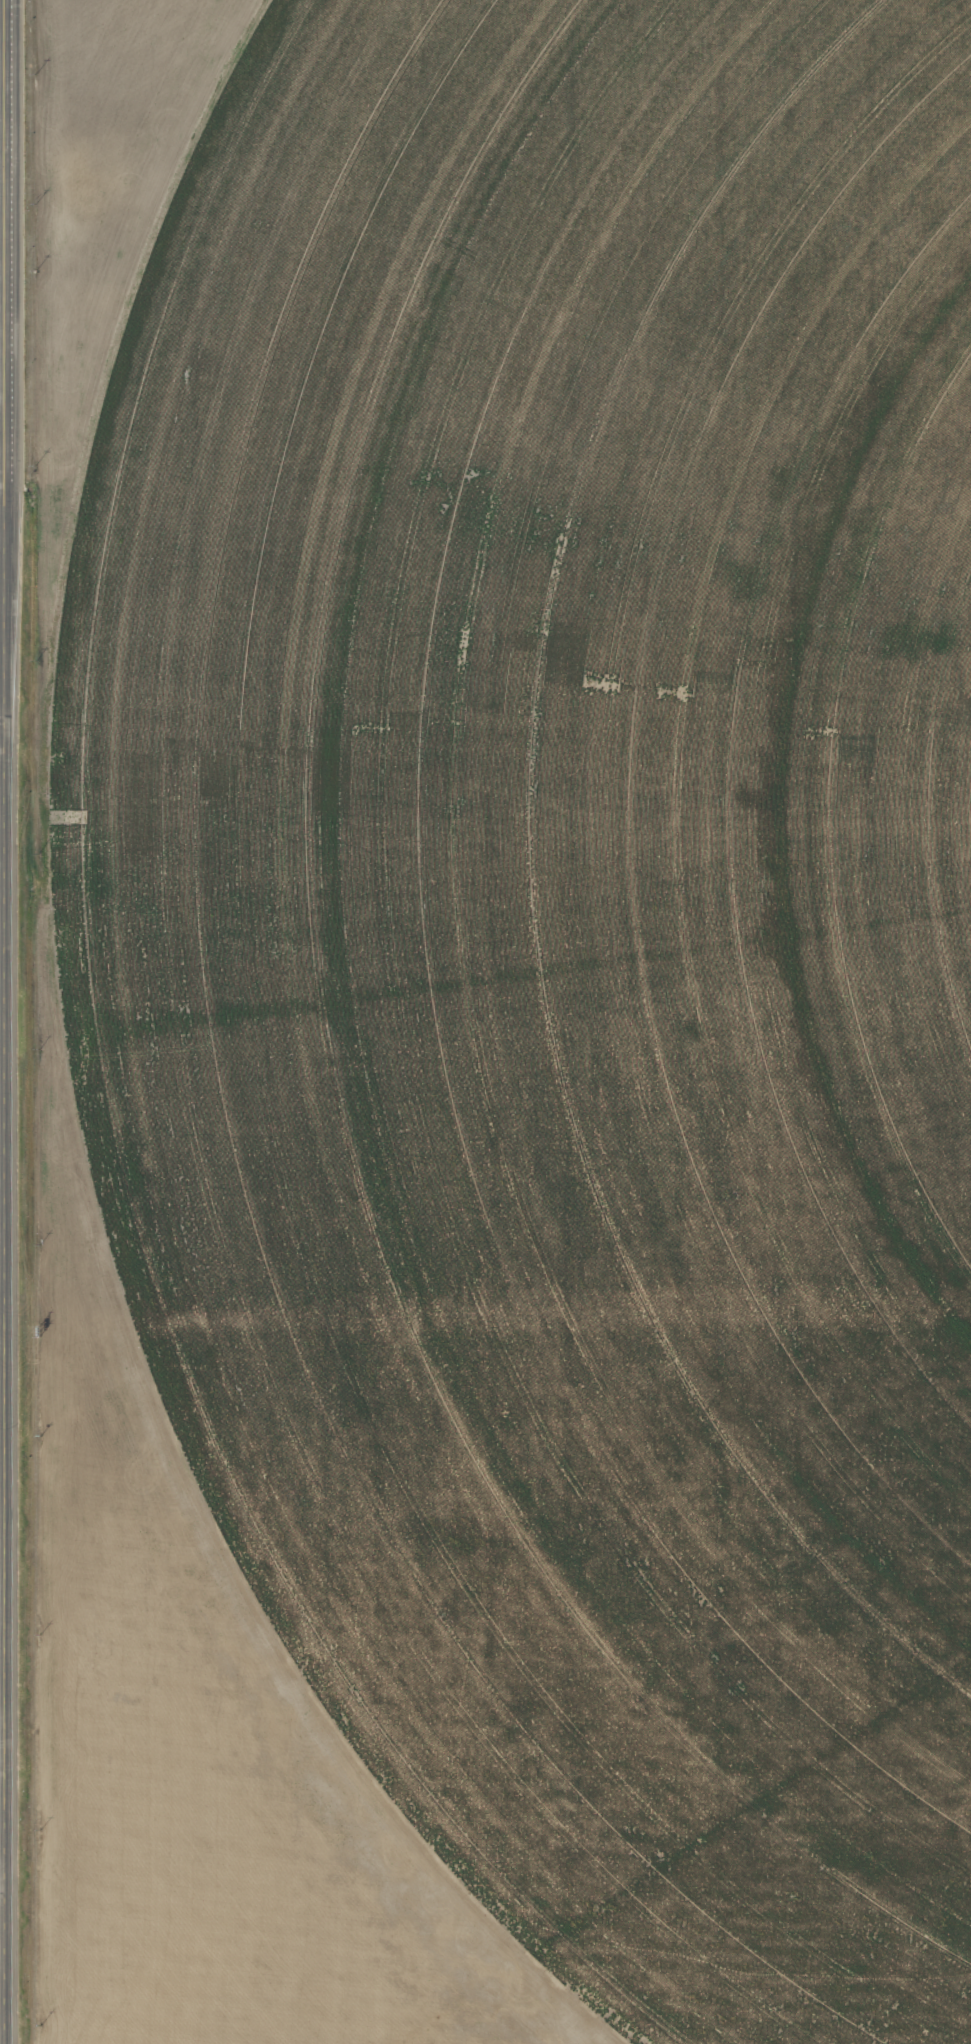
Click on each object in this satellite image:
road: (15, 1021)

